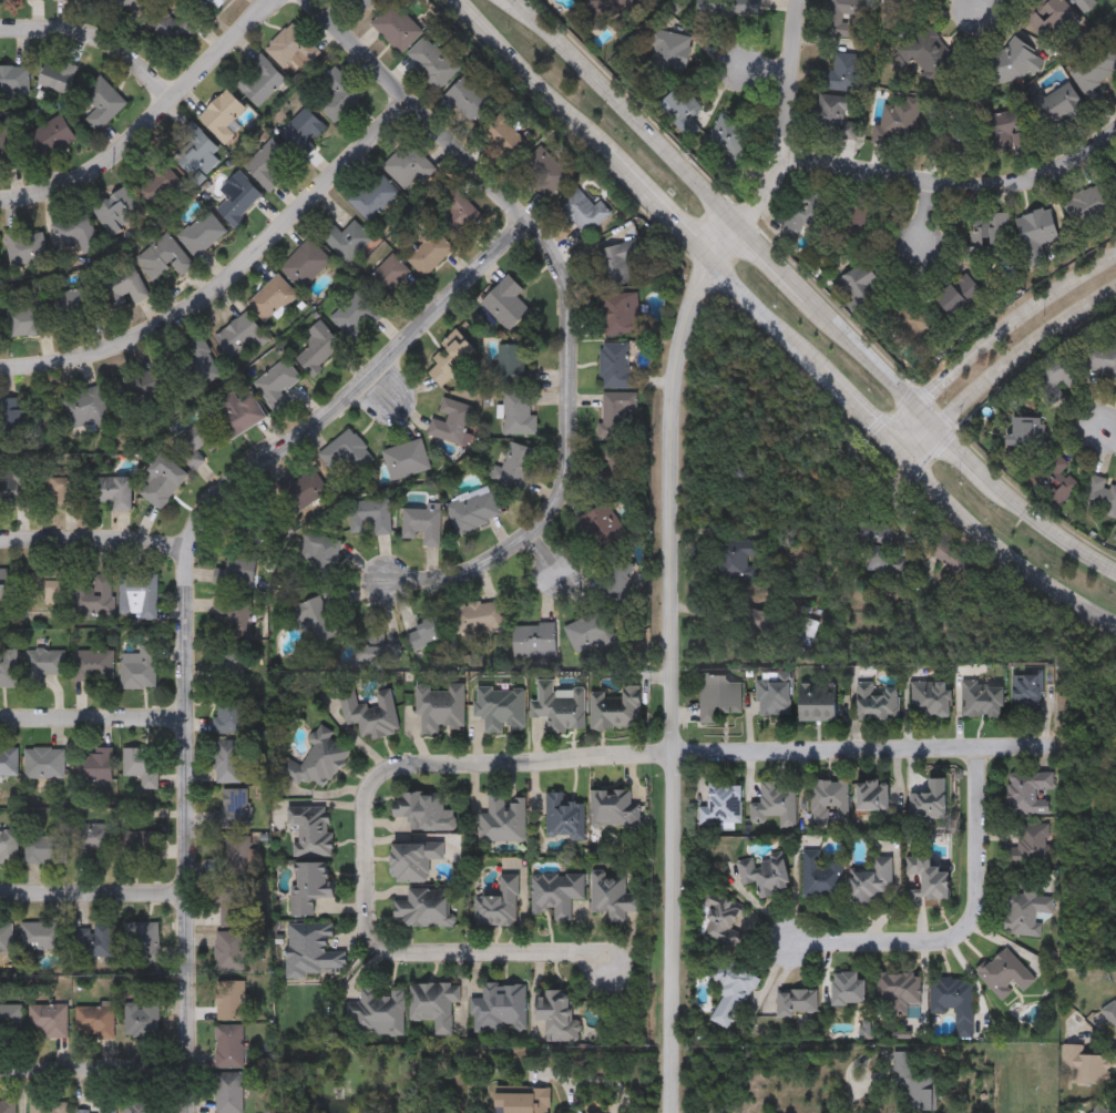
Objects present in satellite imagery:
building: (0, 0)
building: (35, 0)
building: (65, 0)
building: (130, 3)
building: (215, 3)
road: (975, 3)
building: (360, 4)
building: (1082, 4)
building: (608, 8)
building: (729, 8)
building: (1047, 17)
building: (846, 18)
building: (1115, 23)
building: (396, 27)
building: (172, 29)
road: (95, 34)
building: (291, 49)
building: (668, 53)
building: (925, 54)
building: (431, 62)
building: (1011, 62)
building: (1094, 67)
road: (521, 73)
building: (841, 74)
building: (57, 75)
building: (13, 80)
building: (259, 81)
building: (339, 95)
building: (470, 99)
building: (683, 102)
building: (100, 103)
building: (1055, 106)
building: (222, 115)
building: (833, 116)
road: (146, 120)
building: (895, 120)
building: (303, 132)
building: (1006, 133)
building: (948, 134)
building: (504, 136)
building: (726, 136)
building: (51, 139)
building: (7, 147)
building: (192, 151)
building: (408, 165)
building: (266, 169)
building: (543, 172)
building: (1112, 176)
building: (154, 183)
road: (958, 185)
building: (373, 197)
building: (237, 198)
road: (651, 205)
building: (1087, 210)
building: (860, 211)
road: (924, 211)
building: (582, 212)
building: (119, 213)
building: (803, 215)
building: (455, 217)
building: (75, 232)
building: (202, 234)
building: (1034, 236)
building: (984, 237)
building: (345, 239)
building: (25, 247)
building: (429, 253)
building: (163, 259)
building: (617, 263)
building: (305, 265)
road: (229, 272)
building: (386, 278)
building: (861, 286)
road: (806, 296)
building: (958, 296)
building: (94, 298)
building: (273, 298)
building: (506, 303)
road: (566, 303)
building: (351, 312)
building: (620, 314)
road: (758, 316)
building: (28, 318)
building: (912, 324)
building: (242, 338)
road: (994, 340)
building: (318, 348)
building: (1099, 357)
building: (450, 358)
building: (201, 361)
building: (510, 366)
building: (615, 366)
road: (1003, 367)
building: (1055, 379)
building: (277, 380)
building: (142, 392)
road: (844, 404)
traffic signals: (920, 408)
building: (85, 409)
building: (617, 412)
building: (519, 415)
building: (20, 420)
building: (452, 422)
traffic signals: (938, 428)
building: (1027, 431)
road: (1107, 437)
traffic signals: (882, 440)
building: (197, 443)
building: (346, 451)
road: (892, 452)
building: (406, 460)
traffic signals: (903, 464)
building: (516, 468)
building: (1050, 478)
building: (163, 481)
building: (14, 488)
building: (59, 491)
building: (112, 492)
building: (1100, 498)
building: (473, 512)
building: (376, 515)
building: (421, 524)
building: (603, 527)
building: (1114, 537)
road: (667, 539)
road: (94, 541)
building: (1115, 541)
road: (1002, 556)
building: (891, 568)
building: (733, 569)
building: (236, 573)
building: (617, 584)
building: (31, 590)
road: (187, 590)
building: (91, 595)
building: (137, 596)
building: (234, 614)
building: (478, 616)
building: (315, 620)
building: (428, 632)
building: (588, 633)
building: (535, 640)
building: (377, 652)
building: (229, 664)
building: (42, 666)
building: (93, 666)
building: (8, 670)
building: (139, 671)
building: (1028, 692)
building: (775, 694)
building: (718, 697)
building: (931, 700)
building: (983, 701)
building: (878, 702)
building: (818, 703)
building: (440, 707)
building: (560, 707)
building: (501, 708)
building: (615, 708)
building: (231, 713)
building: (369, 713)
road: (93, 715)
road: (844, 750)
building: (9, 762)
building: (318, 762)
building: (228, 763)
road: (423, 763)
building: (43, 764)
building: (94, 767)
building: (141, 767)
building: (1028, 792)
building: (874, 794)
building: (931, 799)
building: (829, 800)
building: (776, 803)
building: (721, 804)
building: (614, 808)
building: (233, 809)
building: (423, 810)
building: (563, 815)
building: (503, 818)
building: (310, 828)
building: (91, 843)
building: (1032, 844)
building: (139, 847)
building: (8, 848)
building: (44, 850)
building: (413, 859)
building: (765, 872)
building: (931, 875)
building: (821, 876)
building: (233, 881)
building: (872, 881)
building: (309, 884)
building: (556, 892)
road: (94, 894)
building: (613, 896)
building: (499, 903)
building: (424, 907)
building: (1026, 910)
building: (720, 919)
road: (969, 930)
building: (41, 936)
building: (6, 937)
building: (92, 940)
building: (142, 942)
building: (310, 948)
building: (229, 950)
road: (511, 951)
building: (1005, 973)
building: (735, 980)
building: (850, 986)
building: (899, 989)
building: (231, 1000)
building: (797, 1001)
building: (954, 1001)
building: (433, 1003)
building: (500, 1007)
building: (378, 1011)
building: (557, 1014)
building: (1110, 1015)
building: (142, 1019)
building: (10, 1020)
building: (48, 1020)
building: (93, 1020)
building: (228, 1045)
road: (94, 1068)
building: (1085, 1068)
road: (587, 1080)
building: (914, 1083)
road: (859, 1089)
building: (229, 1093)
road: (572, 1097)
building: (523, 1102)
road: (617, 1104)
building: (8, 1106)
building: (49, 1106)
building: (141, 1106)
building: (103, 1107)
building: (1099, 1110)

